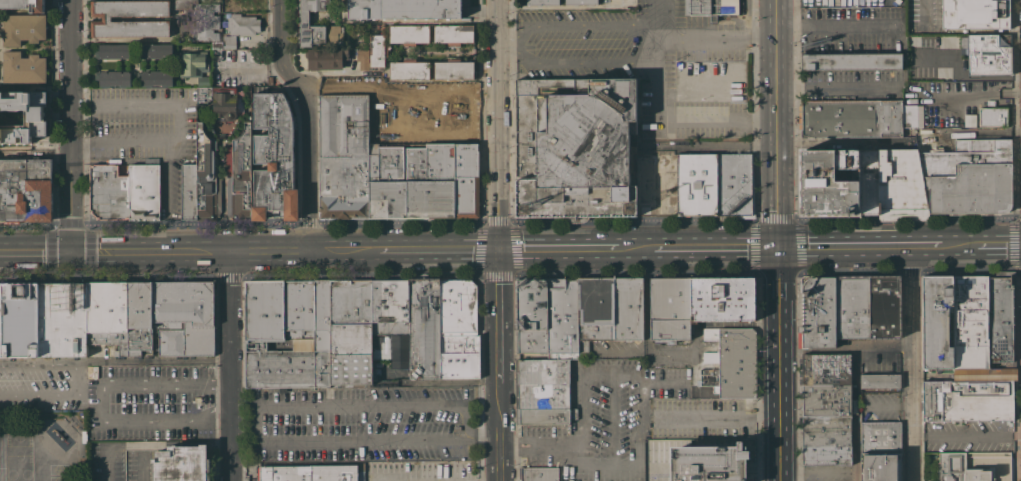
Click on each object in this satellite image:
building: (542, 1)
building: (581, 2)
building: (24, 4)
building: (238, 4)
building: (710, 7)
building: (404, 9)
road: (925, 10)
building: (975, 14)
building: (304, 17)
building: (109, 18)
building: (243, 24)
road: (835, 24)
building: (208, 26)
building: (22, 28)
road: (652, 30)
building: (334, 34)
building: (409, 34)
building: (453, 34)
building: (943, 37)
building: (229, 41)
road: (506, 42)
road: (778, 42)
building: (217, 43)
building: (114, 50)
building: (157, 50)
building: (378, 50)
building: (982, 55)
building: (325, 58)
building: (362, 58)
road: (528, 60)
building: (851, 61)
building: (194, 65)
road: (253, 66)
building: (23, 68)
building: (409, 69)
building: (454, 69)
building: (114, 77)
building: (156, 77)
road: (838, 85)
building: (912, 87)
road: (343, 89)
building: (468, 90)
road: (975, 93)
building: (220, 102)
road: (478, 105)
road: (381, 110)
building: (34, 115)
road: (459, 115)
building: (992, 116)
building: (856, 117)
road: (306, 122)
road: (181, 123)
parking lot: (143, 124)
road: (68, 126)
building: (925, 131)
road: (34, 148)
building: (574, 148)
building: (344, 157)
building: (274, 159)
road: (778, 166)
building: (240, 176)
building: (969, 177)
building: (466, 181)
building: (201, 182)
building: (431, 182)
building: (868, 182)
building: (828, 183)
building: (387, 184)
building: (696, 184)
building: (734, 187)
building: (901, 187)
building: (26, 189)
building: (124, 192)
road: (166, 196)
road: (1019, 215)
road: (508, 223)
road: (499, 240)
road: (841, 245)
road: (922, 245)
road: (958, 245)
road: (998, 245)
road: (715, 246)
traffic signals: (779, 246)
road: (558, 247)
road: (634, 247)
road: (438, 248)
road: (479, 248)
traffic signals: (499, 248)
road: (515, 248)
road: (223, 251)
road: (34, 252)
traffic signals: (69, 252)
road: (510, 273)
building: (722, 298)
building: (458, 305)
building: (884, 306)
building: (390, 307)
building: (852, 307)
building: (670, 309)
building: (609, 311)
building: (816, 312)
building: (279, 315)
building: (321, 315)
building: (121, 316)
building: (531, 316)
building: (184, 317)
building: (1000, 317)
building: (562, 318)
building: (63, 319)
building: (21, 320)
building: (938, 321)
building: (1, 322)
building: (971, 322)
building: (692, 326)
building: (424, 328)
building: (351, 332)
building: (403, 346)
building: (459, 355)
parking lot: (881, 359)
building: (730, 362)
road: (915, 362)
road: (779, 363)
road: (229, 366)
building: (288, 369)
building: (825, 370)
building: (984, 374)
road: (642, 375)
road: (114, 380)
road: (855, 381)
building: (880, 381)
building: (542, 392)
parking lot: (121, 394)
building: (968, 400)
building: (825, 401)
road: (891, 403)
parking lot: (882, 404)
building: (198, 405)
parking lot: (609, 411)
parking lot: (705, 418)
road: (718, 418)
road: (145, 423)
road: (585, 424)
road: (1017, 433)
road: (972, 435)
parking lot: (969, 436)
building: (881, 438)
building: (825, 440)
road: (151, 443)
road: (542, 446)
building: (708, 463)
building: (181, 464)
building: (881, 467)
building: (961, 469)
parking lot: (421, 471)
building: (306, 472)
building: (538, 474)
road: (813, 475)

